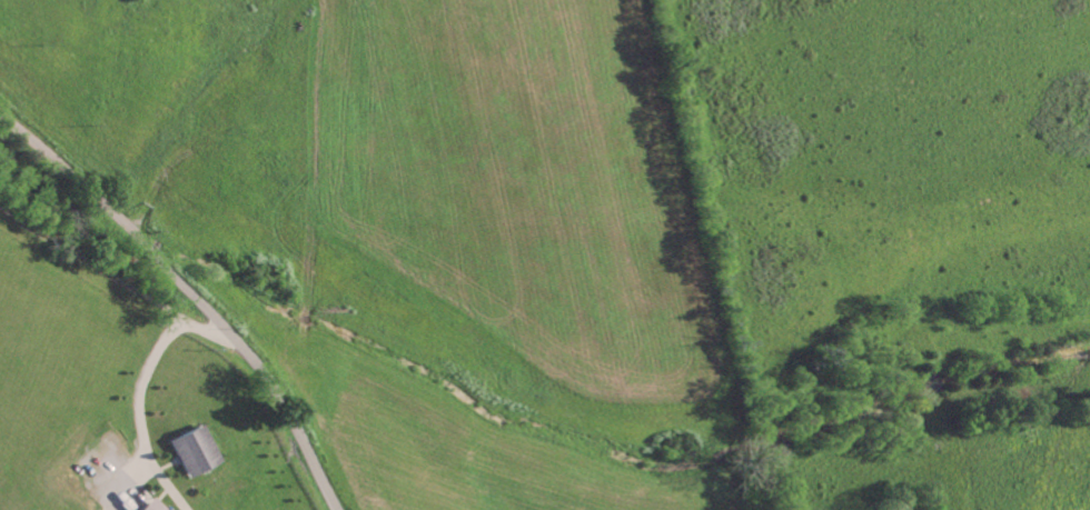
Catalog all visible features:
road: (125, 281)
road: (191, 290)
road: (141, 387)
building: (196, 452)
building: (152, 506)

